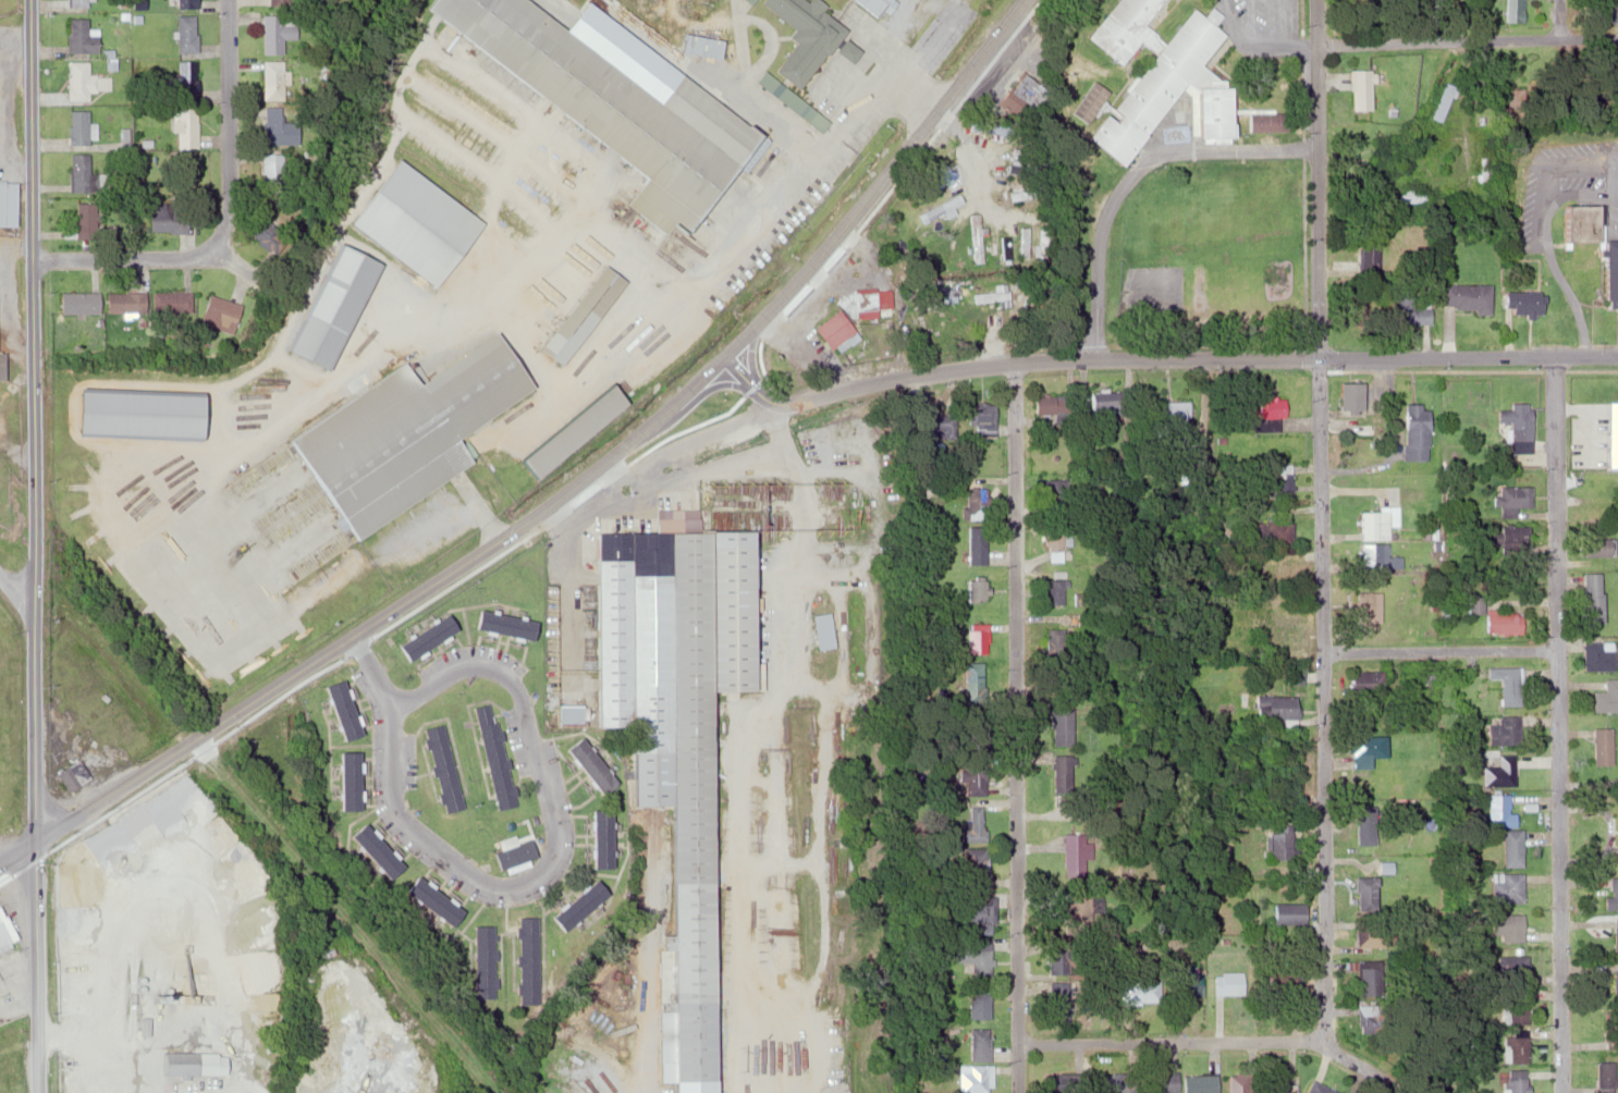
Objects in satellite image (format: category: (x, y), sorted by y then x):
building: (273, 2)
building: (77, 3)
building: (184, 3)
building: (870, 3)
building: (1515, 10)
road: (1559, 20)
parking lot: (1268, 22)
building: (185, 32)
building: (274, 32)
building: (81, 35)
building: (802, 36)
road: (1469, 41)
building: (844, 50)
building: (1164, 70)
building: (274, 76)
building: (185, 78)
building: (83, 81)
building: (1360, 88)
building: (1444, 101)
building: (787, 102)
building: (610, 107)
building: (1266, 121)
road: (229, 125)
building: (76, 126)
building: (186, 126)
building: (280, 134)
building: (1382, 144)
building: (1485, 168)
building: (271, 169)
road: (1132, 172)
building: (81, 174)
building: (933, 177)
building: (1360, 183)
building: (1413, 198)
building: (5, 204)
building: (83, 219)
building: (166, 221)
building: (410, 222)
building: (1579, 222)
road: (1542, 230)
building: (265, 233)
building: (975, 237)
park: (1211, 244)
road: (125, 257)
building: (1609, 269)
road: (256, 275)
building: (991, 295)
building: (1463, 296)
building: (863, 299)
building: (1357, 300)
building: (77, 302)
building: (124, 302)
building: (169, 302)
building: (1521, 303)
building: (327, 307)
building: (1409, 310)
building: (217, 312)
building: (576, 315)
building: (834, 332)
road: (1074, 360)
building: (1348, 396)
building: (1098, 401)
building: (1052, 406)
building: (131, 414)
building: (1265, 414)
road: (35, 415)
building: (980, 419)
building: (1168, 420)
building: (935, 426)
building: (1517, 426)
building: (565, 430)
building: (1414, 432)
building: (400, 433)
building: (1613, 433)
building: (1362, 440)
building: (1280, 482)
road: (567, 491)
building: (1511, 496)
building: (973, 502)
road: (1324, 521)
building: (1377, 523)
building: (1271, 532)
building: (1055, 539)
building: (1508, 540)
building: (976, 544)
building: (1594, 546)
building: (1375, 556)
road: (15, 586)
building: (975, 589)
building: (1591, 598)
building: (1470, 603)
building: (1364, 609)
building: (1499, 622)
building: (501, 624)
building: (820, 629)
building: (1288, 631)
building: (421, 636)
building: (977, 637)
building: (1053, 640)
road: (1441, 650)
building: (1595, 656)
road: (476, 664)
road: (378, 672)
building: (973, 680)
building: (1365, 680)
building: (1505, 684)
building: (1606, 696)
building: (1271, 707)
building: (339, 708)
building: (566, 714)
building: (667, 722)
road: (1557, 725)
building: (1062, 726)
road: (1017, 727)
building: (1503, 729)
building: (1602, 746)
building: (1364, 748)
building: (492, 754)
building: (586, 764)
building: (440, 766)
building: (1501, 769)
building: (71, 774)
building: (1063, 777)
building: (345, 779)
building: (973, 782)
building: (1499, 809)
building: (975, 822)
building: (599, 838)
building: (1279, 842)
building: (1511, 847)
building: (371, 850)
building: (1074, 853)
building: (508, 858)
building: (978, 871)
building: (1506, 886)
building: (1361, 892)
building: (1611, 895)
building: (429, 900)
building: (575, 905)
building: (1079, 911)
building: (981, 912)
building: (1285, 912)
building: (1507, 926)
building: (4, 932)
building: (1366, 932)
building: (1615, 935)
building: (979, 957)
building: (1064, 957)
building: (525, 959)
building: (482, 961)
road: (39, 962)
building: (1512, 969)
building: (1364, 978)
building: (1185, 980)
building: (1277, 980)
building: (1616, 981)
building: (1227, 982)
building: (1140, 990)
building: (1058, 1004)
building: (978, 1005)
building: (1515, 1009)
building: (1361, 1016)
building: (978, 1044)
road: (1168, 1045)
building: (1517, 1045)
building: (185, 1063)
road: (1366, 1068)
building: (1605, 1074)
building: (978, 1078)
building: (1162, 1081)
building: (1517, 1081)
building: (1065, 1082)
building: (1115, 1082)
building: (1198, 1082)
building: (1238, 1082)
building: (1275, 1083)
building: (1315, 1088)

